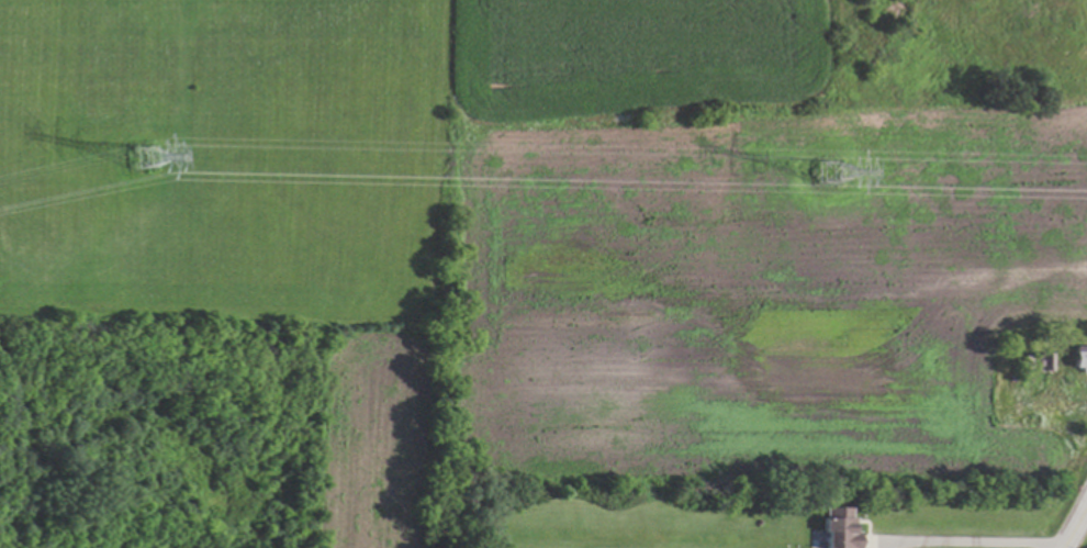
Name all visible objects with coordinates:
power tower: (120, 153)
power tower: (815, 167)
building: (1078, 356)
road: (1074, 524)
building: (837, 530)
road: (957, 546)

